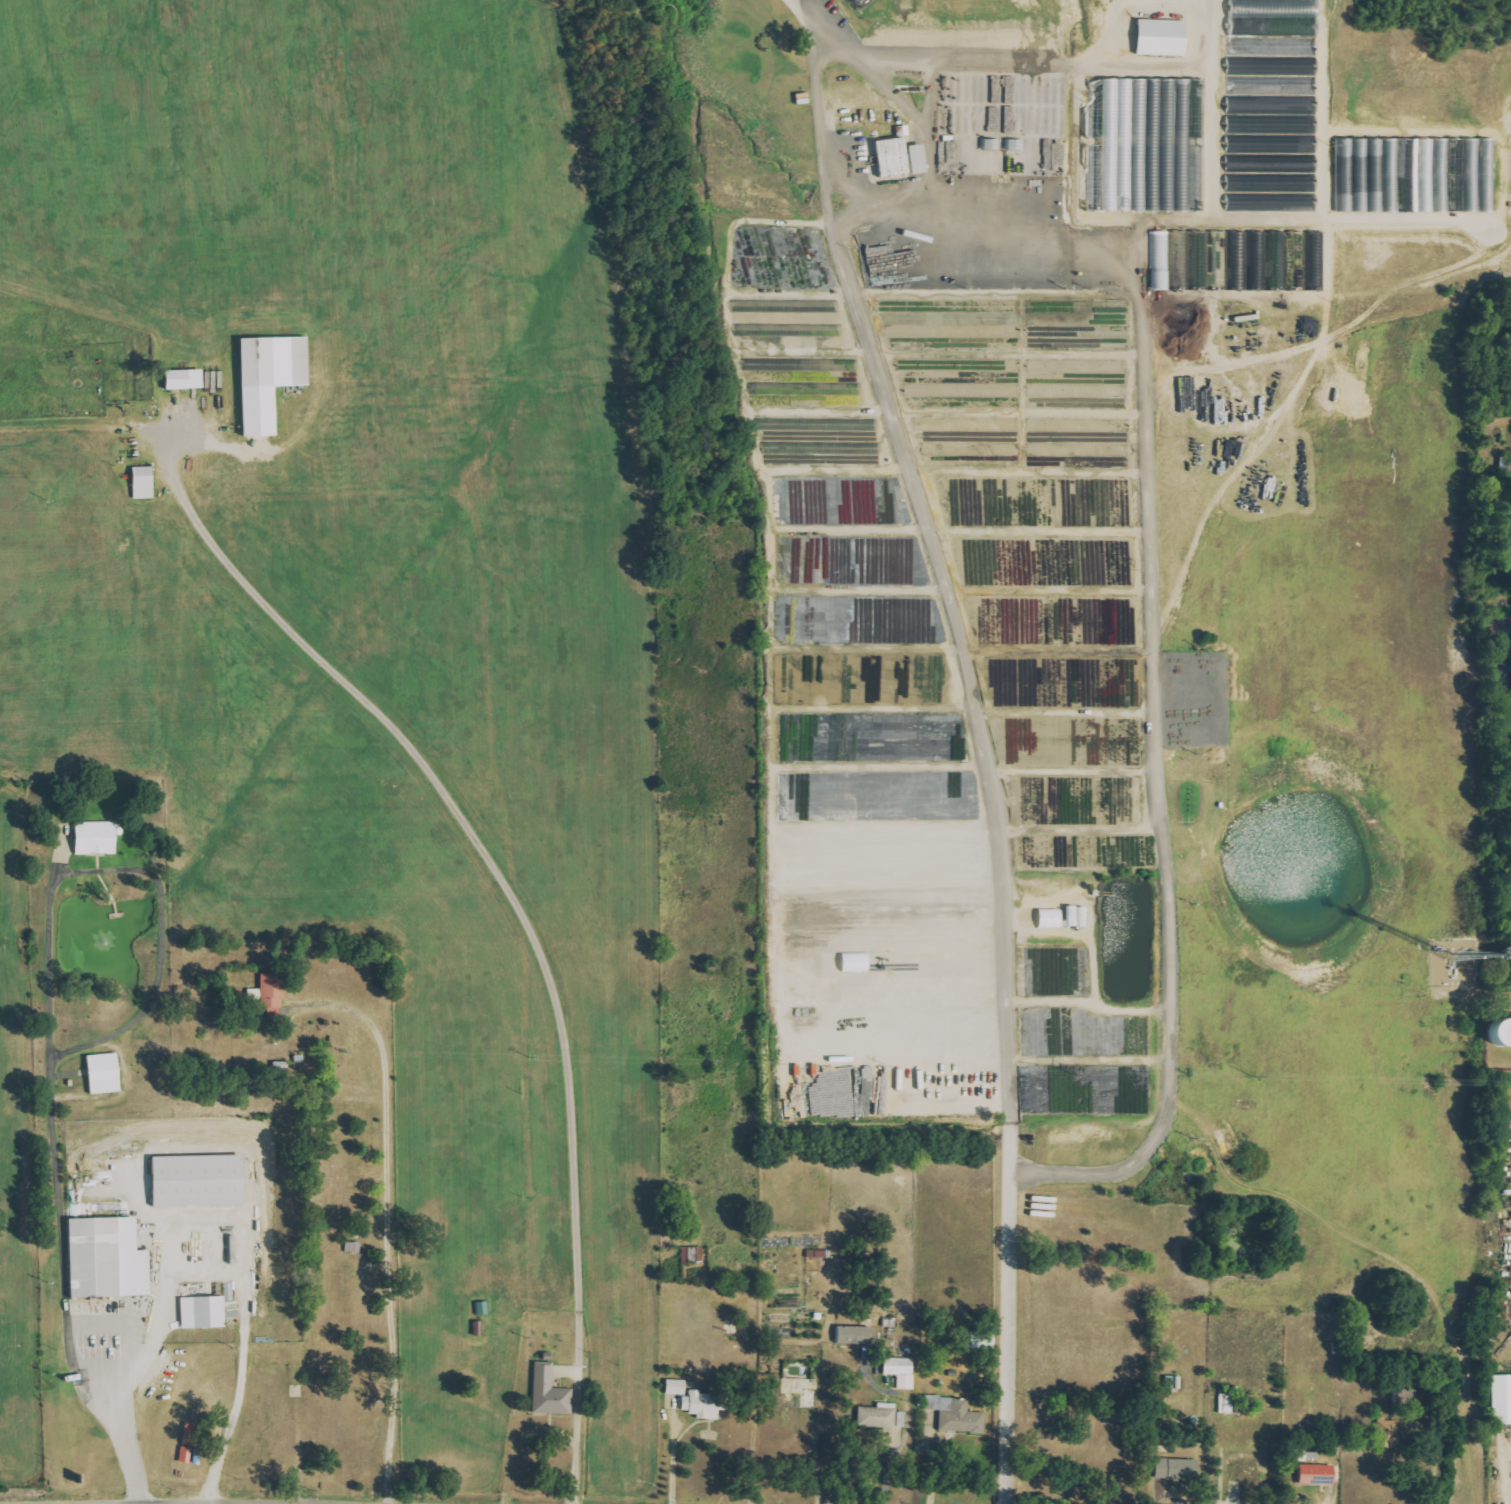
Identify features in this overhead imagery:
building: (858, 1)
building: (1248, 6)
road: (804, 13)
building: (1166, 39)
road: (1047, 93)
road: (929, 128)
building: (1274, 137)
building: (1148, 145)
building: (896, 157)
building: (921, 159)
building: (1418, 176)
building: (1239, 261)
building: (787, 306)
building: (803, 331)
building: (959, 331)
building: (1079, 366)
building: (273, 378)
building: (187, 379)
building: (795, 389)
building: (975, 391)
building: (1079, 392)
building: (823, 448)
building: (1004, 450)
building: (1114, 451)
building: (146, 483)
road: (986, 754)
building: (99, 838)
road: (491, 858)
road: (134, 870)
building: (1079, 917)
building: (1053, 919)
building: (275, 990)
building: (1494, 1036)
building: (107, 1074)
road: (228, 1146)
building: (202, 1182)
road: (210, 1218)
road: (389, 1223)
building: (818, 1254)
building: (694, 1255)
building: (110, 1260)
road: (63, 1289)
building: (205, 1313)
building: (856, 1336)
road: (1080, 1346)
building: (903, 1372)
building: (678, 1388)
building: (552, 1393)
building: (1499, 1401)
building: (1228, 1404)
building: (707, 1405)
building: (959, 1415)
building: (880, 1416)
road: (910, 1429)
road: (579, 1430)
building: (1390, 1431)
building: (191, 1443)
road: (672, 1464)
road: (934, 1469)
building: (1179, 1469)
building: (1250, 1469)
building: (1319, 1475)
road: (1510, 1475)

